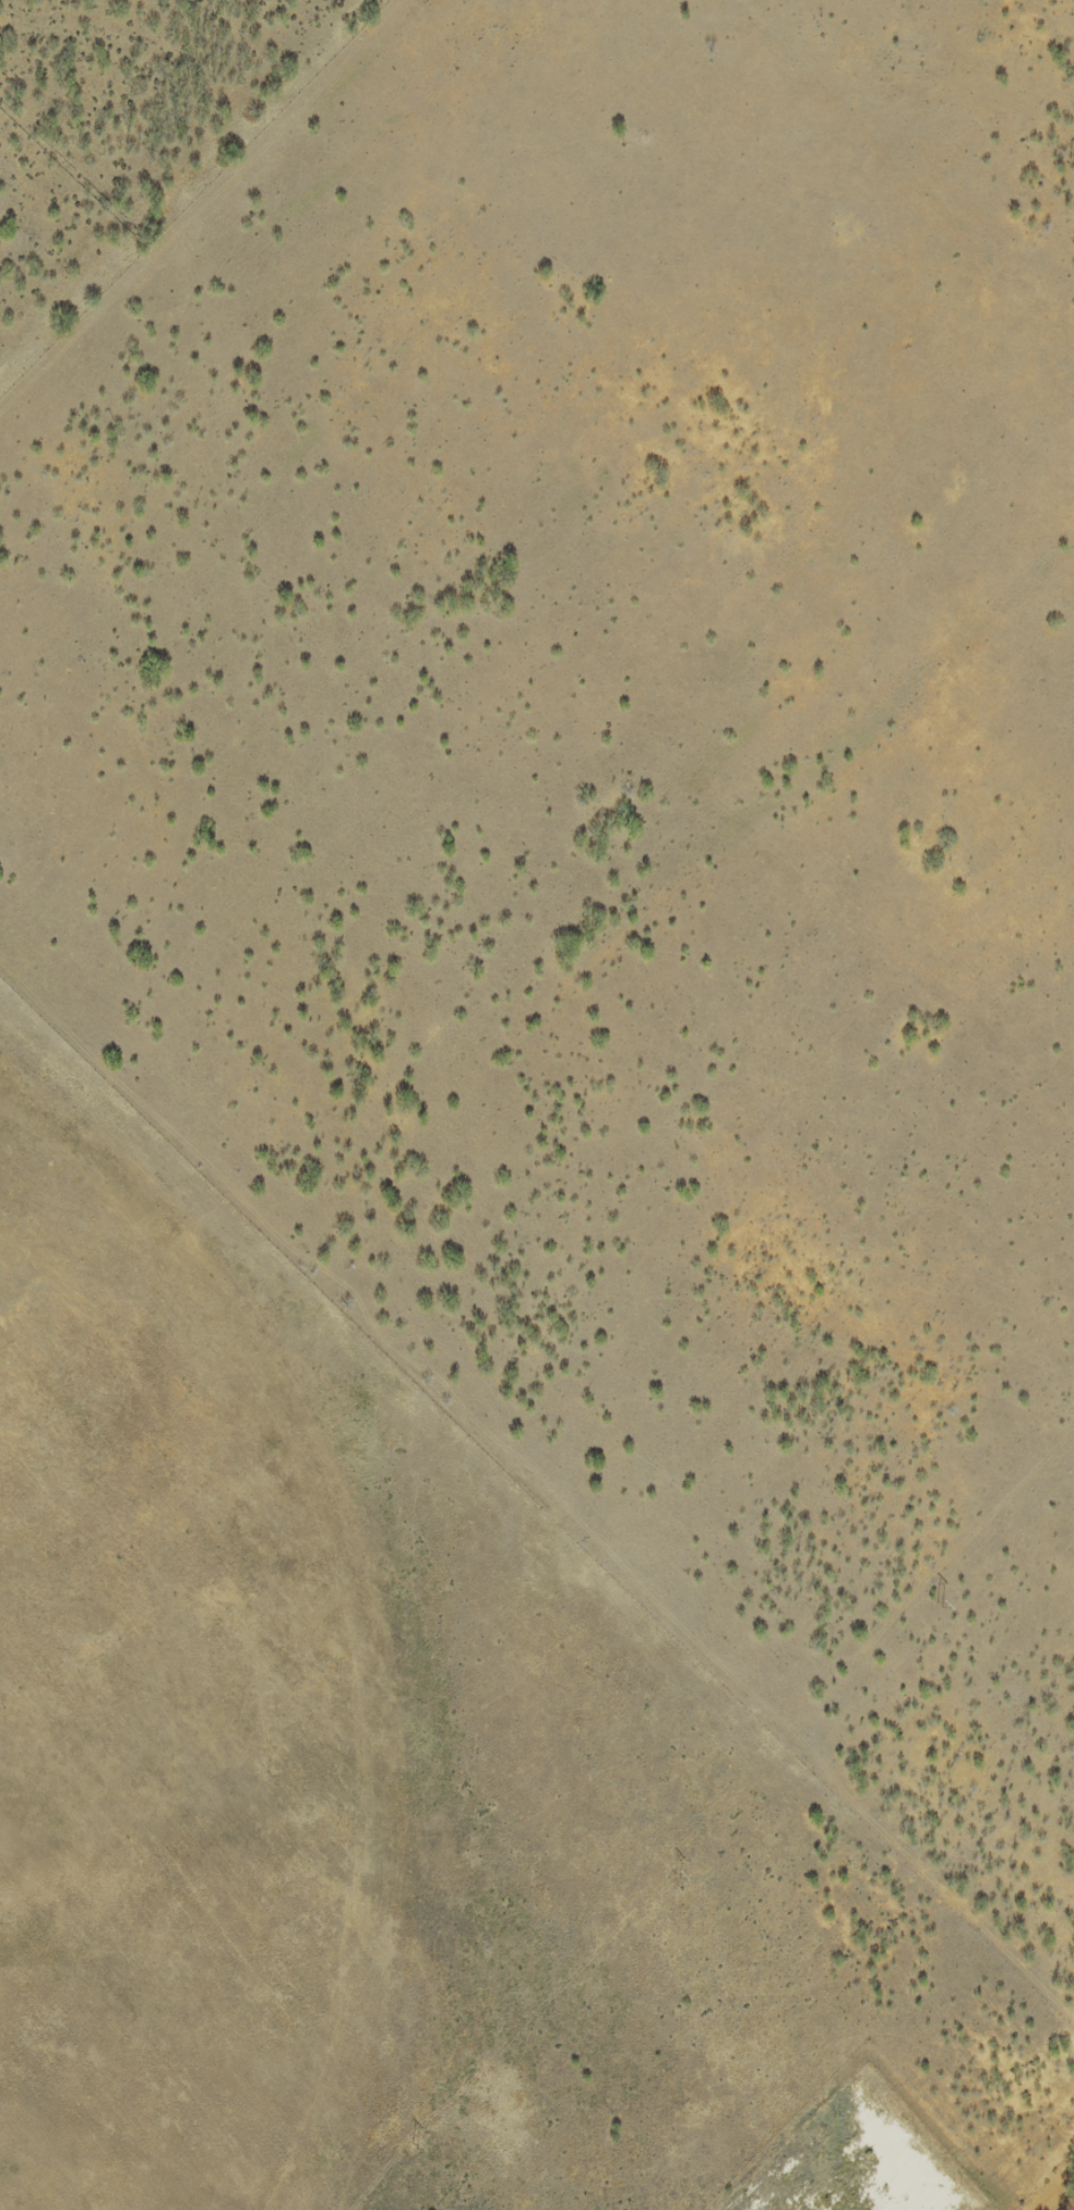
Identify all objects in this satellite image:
power tower: (938, 1606)
power tower: (675, 1877)
power tower: (413, 2148)

